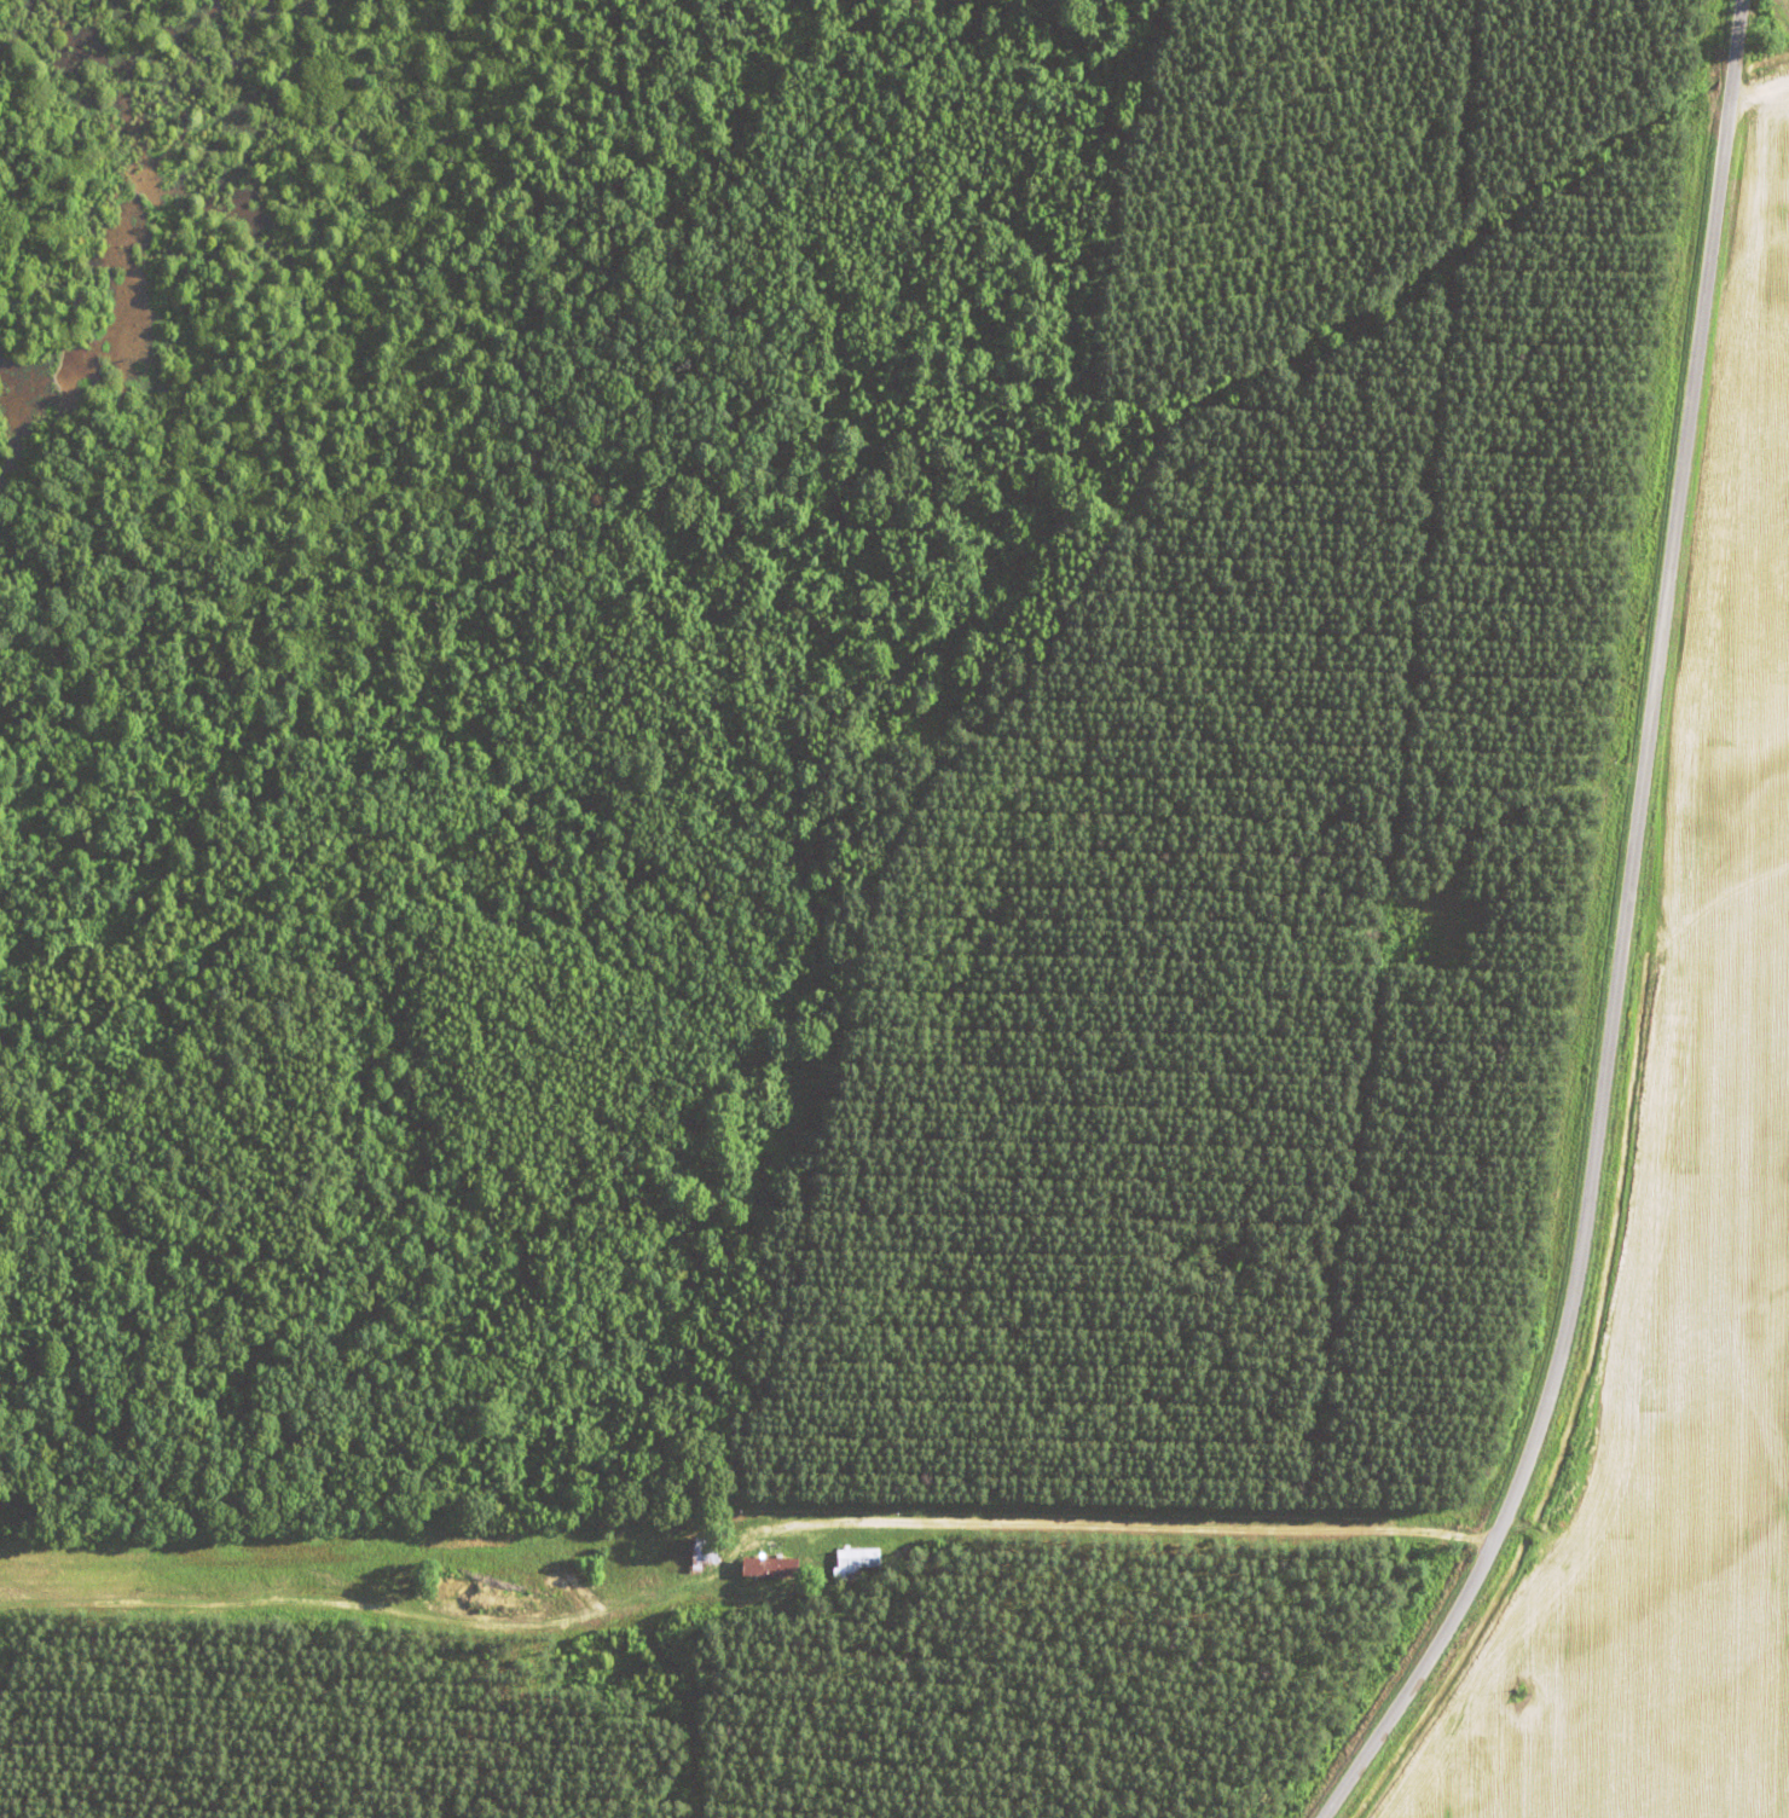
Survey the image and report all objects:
road: (1615, 942)
road: (884, 1525)
building: (699, 1548)
building: (850, 1558)
building: (764, 1564)

